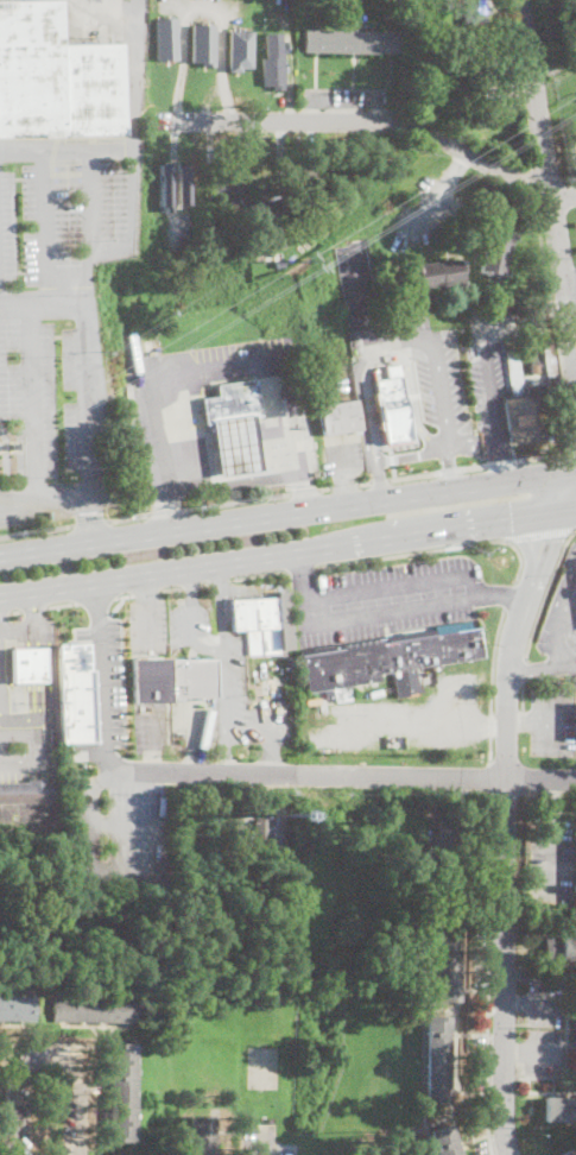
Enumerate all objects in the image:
road: (134, 7)
road: (202, 7)
building: (433, 7)
building: (474, 10)
building: (435, 25)
building: (166, 37)
building: (422, 39)
building: (354, 42)
building: (203, 44)
building: (238, 49)
building: (272, 62)
building: (419, 64)
road: (556, 67)
building: (31, 69)
building: (466, 72)
building: (94, 89)
road: (378, 121)
road: (129, 128)
road: (64, 149)
building: (209, 154)
building: (304, 173)
road: (550, 182)
building: (164, 184)
building: (182, 184)
building: (224, 184)
road: (438, 190)
road: (88, 202)
building: (260, 214)
parking lot: (64, 219)
road: (45, 226)
building: (240, 236)
building: (495, 253)
power tower: (306, 255)
building: (442, 274)
road: (570, 284)
road: (40, 304)
road: (368, 324)
road: (390, 352)
road: (486, 359)
road: (215, 365)
building: (534, 366)
building: (531, 389)
road: (437, 390)
parking lot: (55, 395)
road: (86, 399)
building: (229, 400)
road: (33, 403)
building: (391, 408)
building: (338, 417)
road: (368, 423)
building: (233, 443)
building: (2, 447)
building: (14, 447)
road: (569, 453)
road: (411, 457)
road: (450, 466)
road: (575, 471)
road: (335, 486)
road: (44, 499)
road: (287, 515)
traffic signals: (511, 522)
road: (91, 523)
road: (37, 531)
road: (539, 532)
traffic signals: (547, 542)
road: (433, 548)
road: (287, 555)
road: (300, 567)
road: (258, 574)
road: (300, 575)
road: (220, 580)
road: (205, 582)
road: (216, 582)
road: (190, 583)
road: (399, 583)
road: (171, 587)
road: (546, 591)
road: (146, 592)
road: (508, 593)
road: (122, 594)
road: (499, 595)
road: (96, 598)
parking lot: (385, 598)
road: (95, 599)
road: (62, 602)
road: (559, 604)
road: (115, 605)
road: (34, 608)
road: (146, 612)
road: (378, 612)
road: (222, 617)
road: (34, 618)
road: (99, 621)
road: (192, 621)
building: (255, 623)
road: (565, 623)
parking lot: (147, 624)
parking lot: (189, 629)
building: (385, 659)
building: (27, 662)
road: (37, 662)
road: (566, 662)
road: (531, 667)
road: (521, 670)
building: (171, 679)
road: (492, 683)
parking lot: (103, 688)
building: (291, 689)
building: (74, 693)
road: (101, 695)
road: (521, 696)
parking lot: (243, 702)
road: (223, 703)
road: (31, 715)
parking lot: (552, 719)
road: (528, 720)
road: (550, 722)
parking lot: (151, 728)
road: (139, 771)
road: (371, 776)
road: (490, 778)
building: (25, 791)
road: (552, 797)
road: (504, 808)
road: (127, 823)
building: (260, 828)
parking lot: (121, 832)
building: (575, 833)
road: (93, 848)
parking lot: (551, 857)
road: (551, 858)
building: (575, 888)
building: (559, 947)
building: (447, 958)
road: (487, 974)
parking lot: (545, 1002)
road: (514, 1003)
road: (542, 1003)
building: (17, 1008)
building: (94, 1009)
road: (513, 1050)
road: (543, 1050)
parking lot: (544, 1050)
road: (45, 1052)
building: (437, 1059)
building: (122, 1092)
building: (559, 1109)
building: (201, 1135)
building: (444, 1141)
road: (266, 1142)
building: (570, 1151)
building: (113, 1154)

